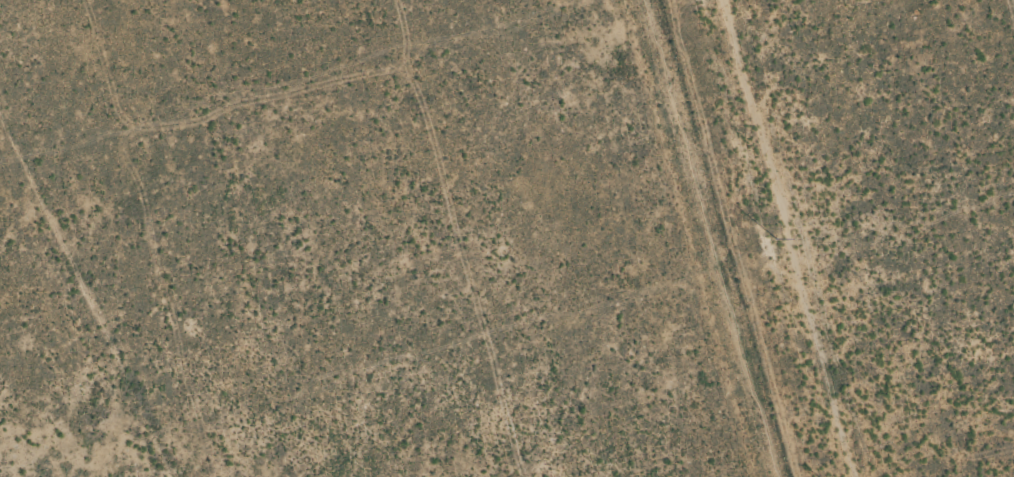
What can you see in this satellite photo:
power tower: (773, 237)

